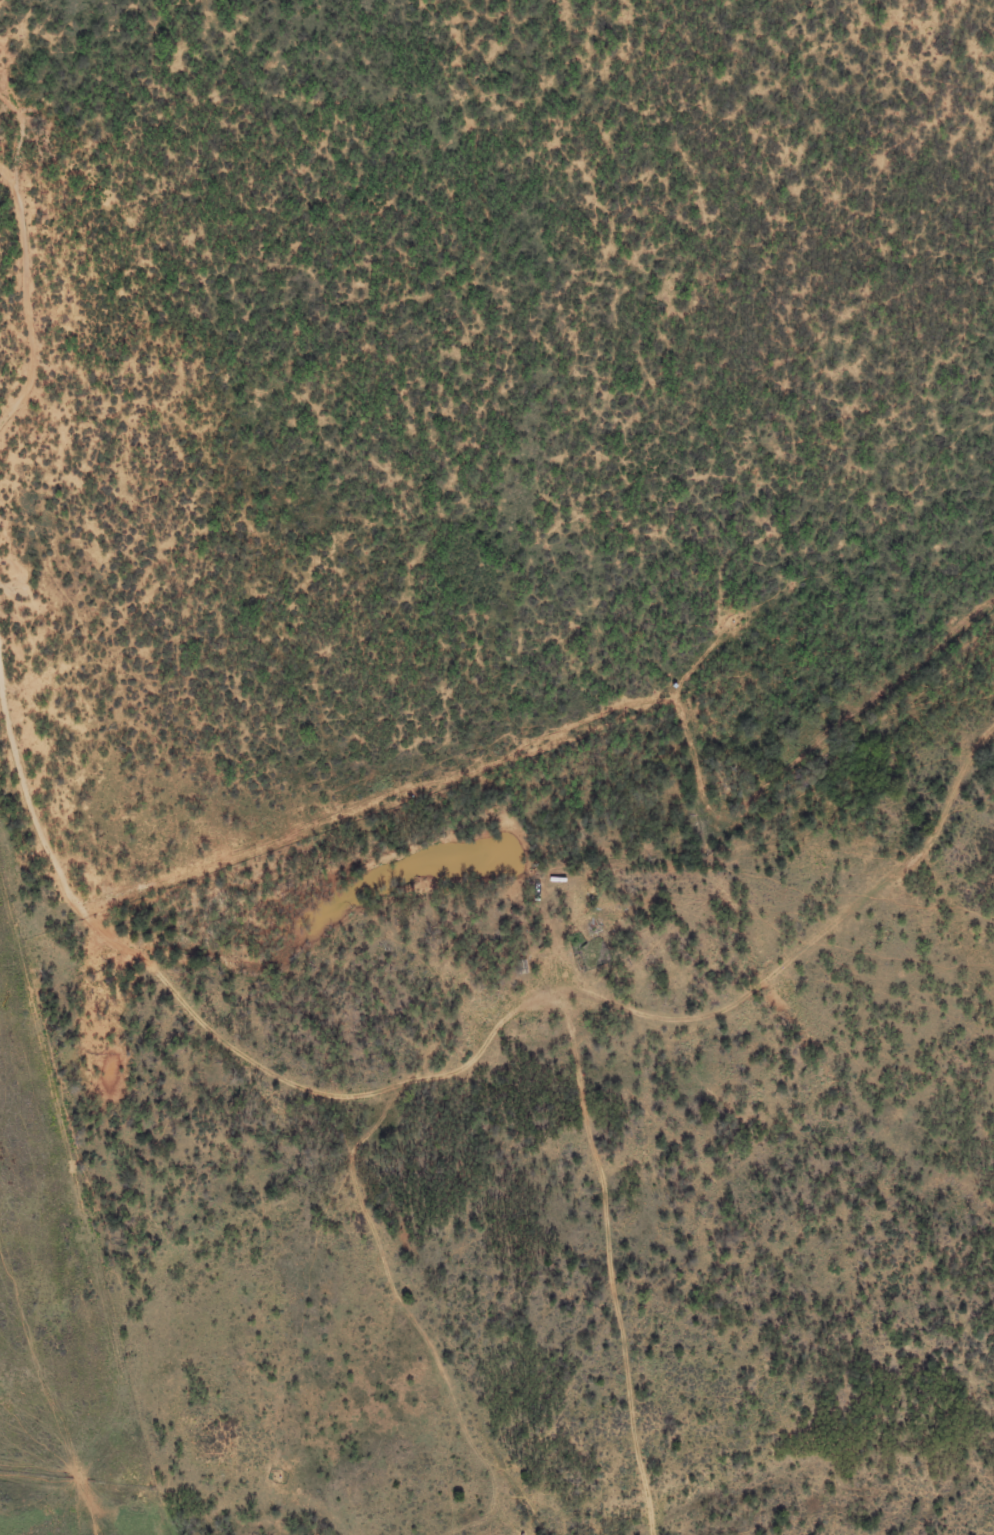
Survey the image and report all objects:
road: (434, 328)
road: (299, 1147)

